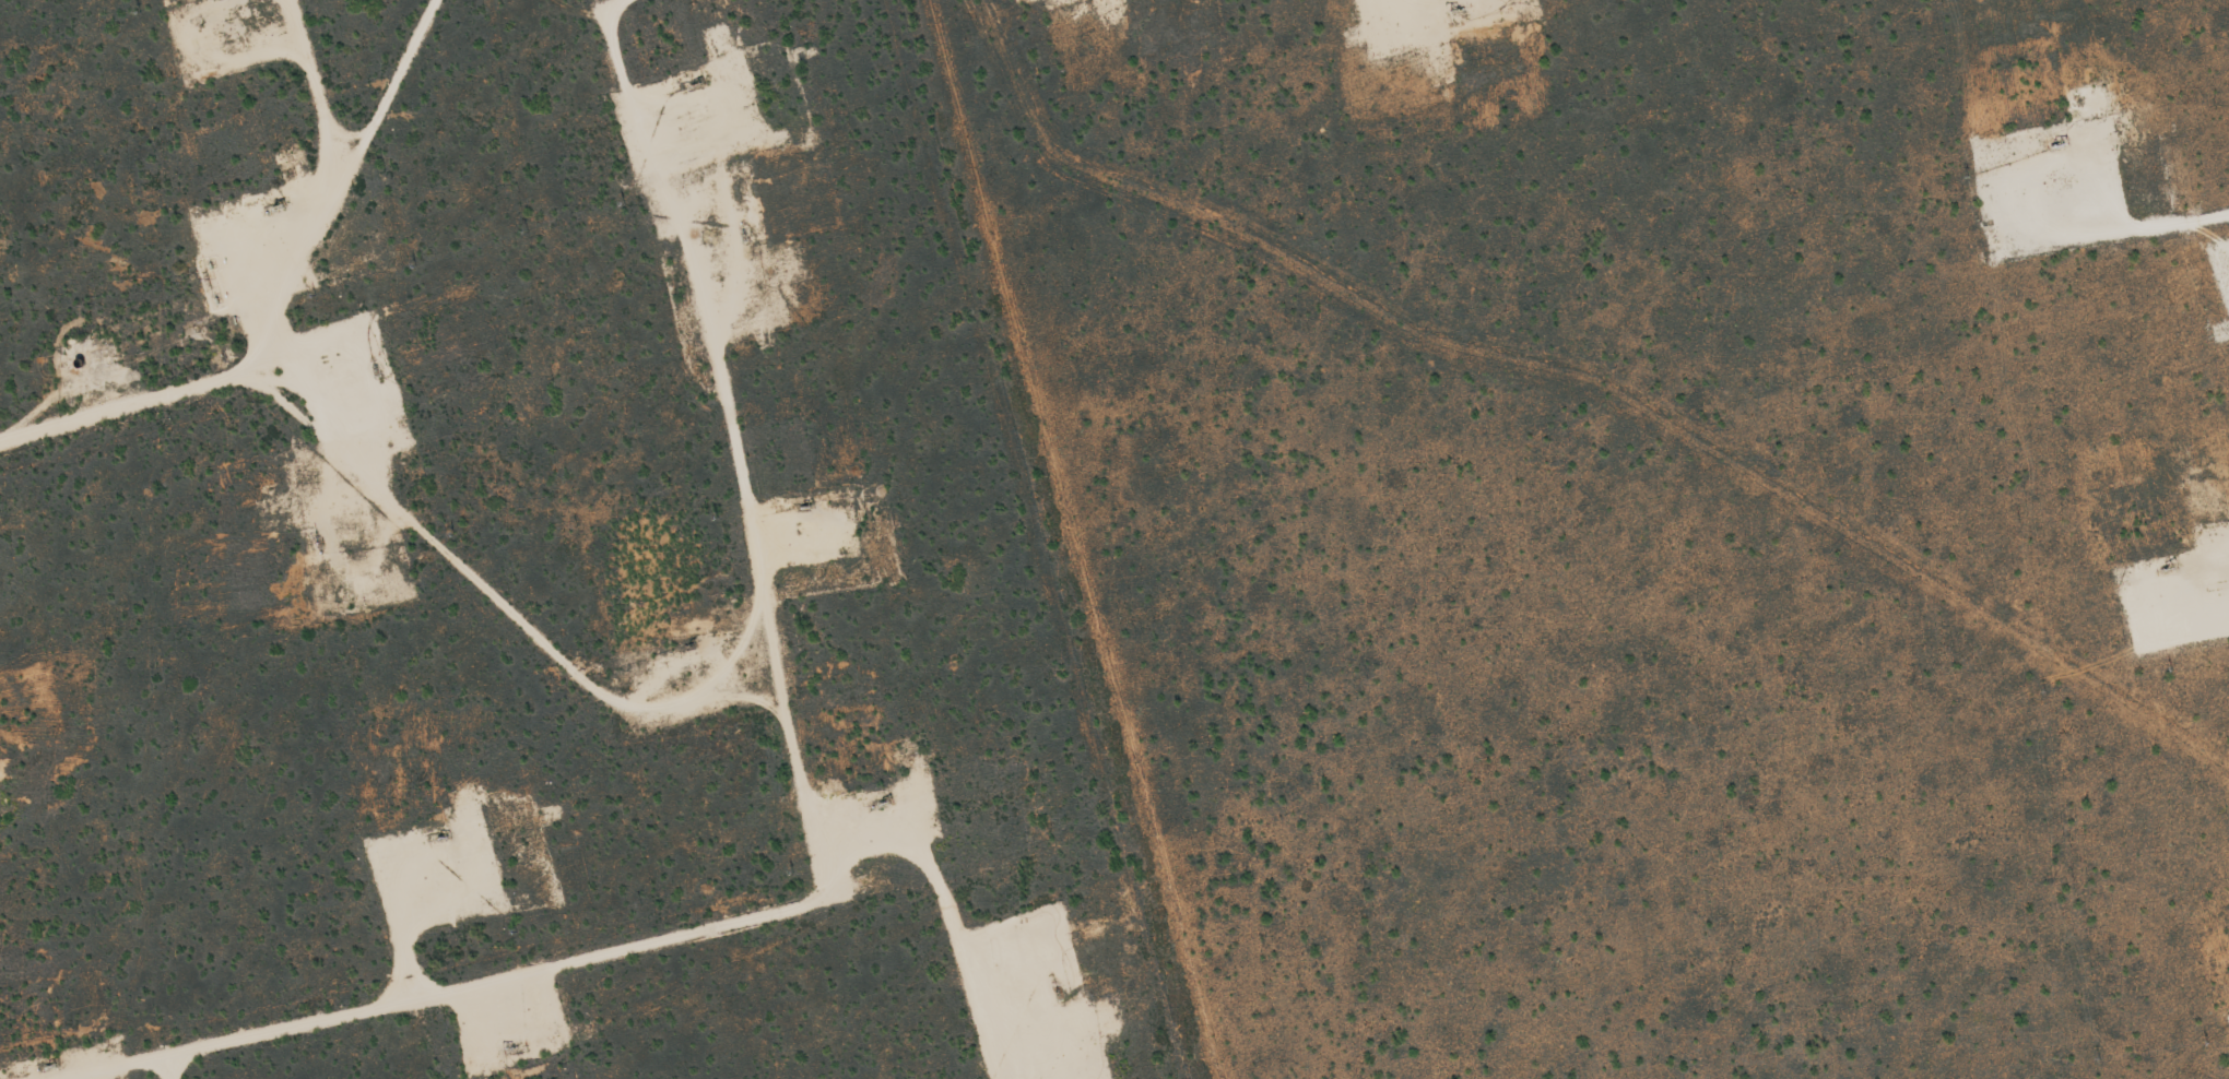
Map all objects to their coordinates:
petroleum well: (691, 80)
petroleum well: (2056, 146)
petroleum well: (272, 205)
road: (287, 295)
petroleum well: (798, 503)
petroleum well: (2163, 569)
petroleum well: (692, 645)
petroleum well: (886, 805)
petroleum well: (438, 838)
petroleum well: (507, 1046)
petroleum well: (46, 1063)

